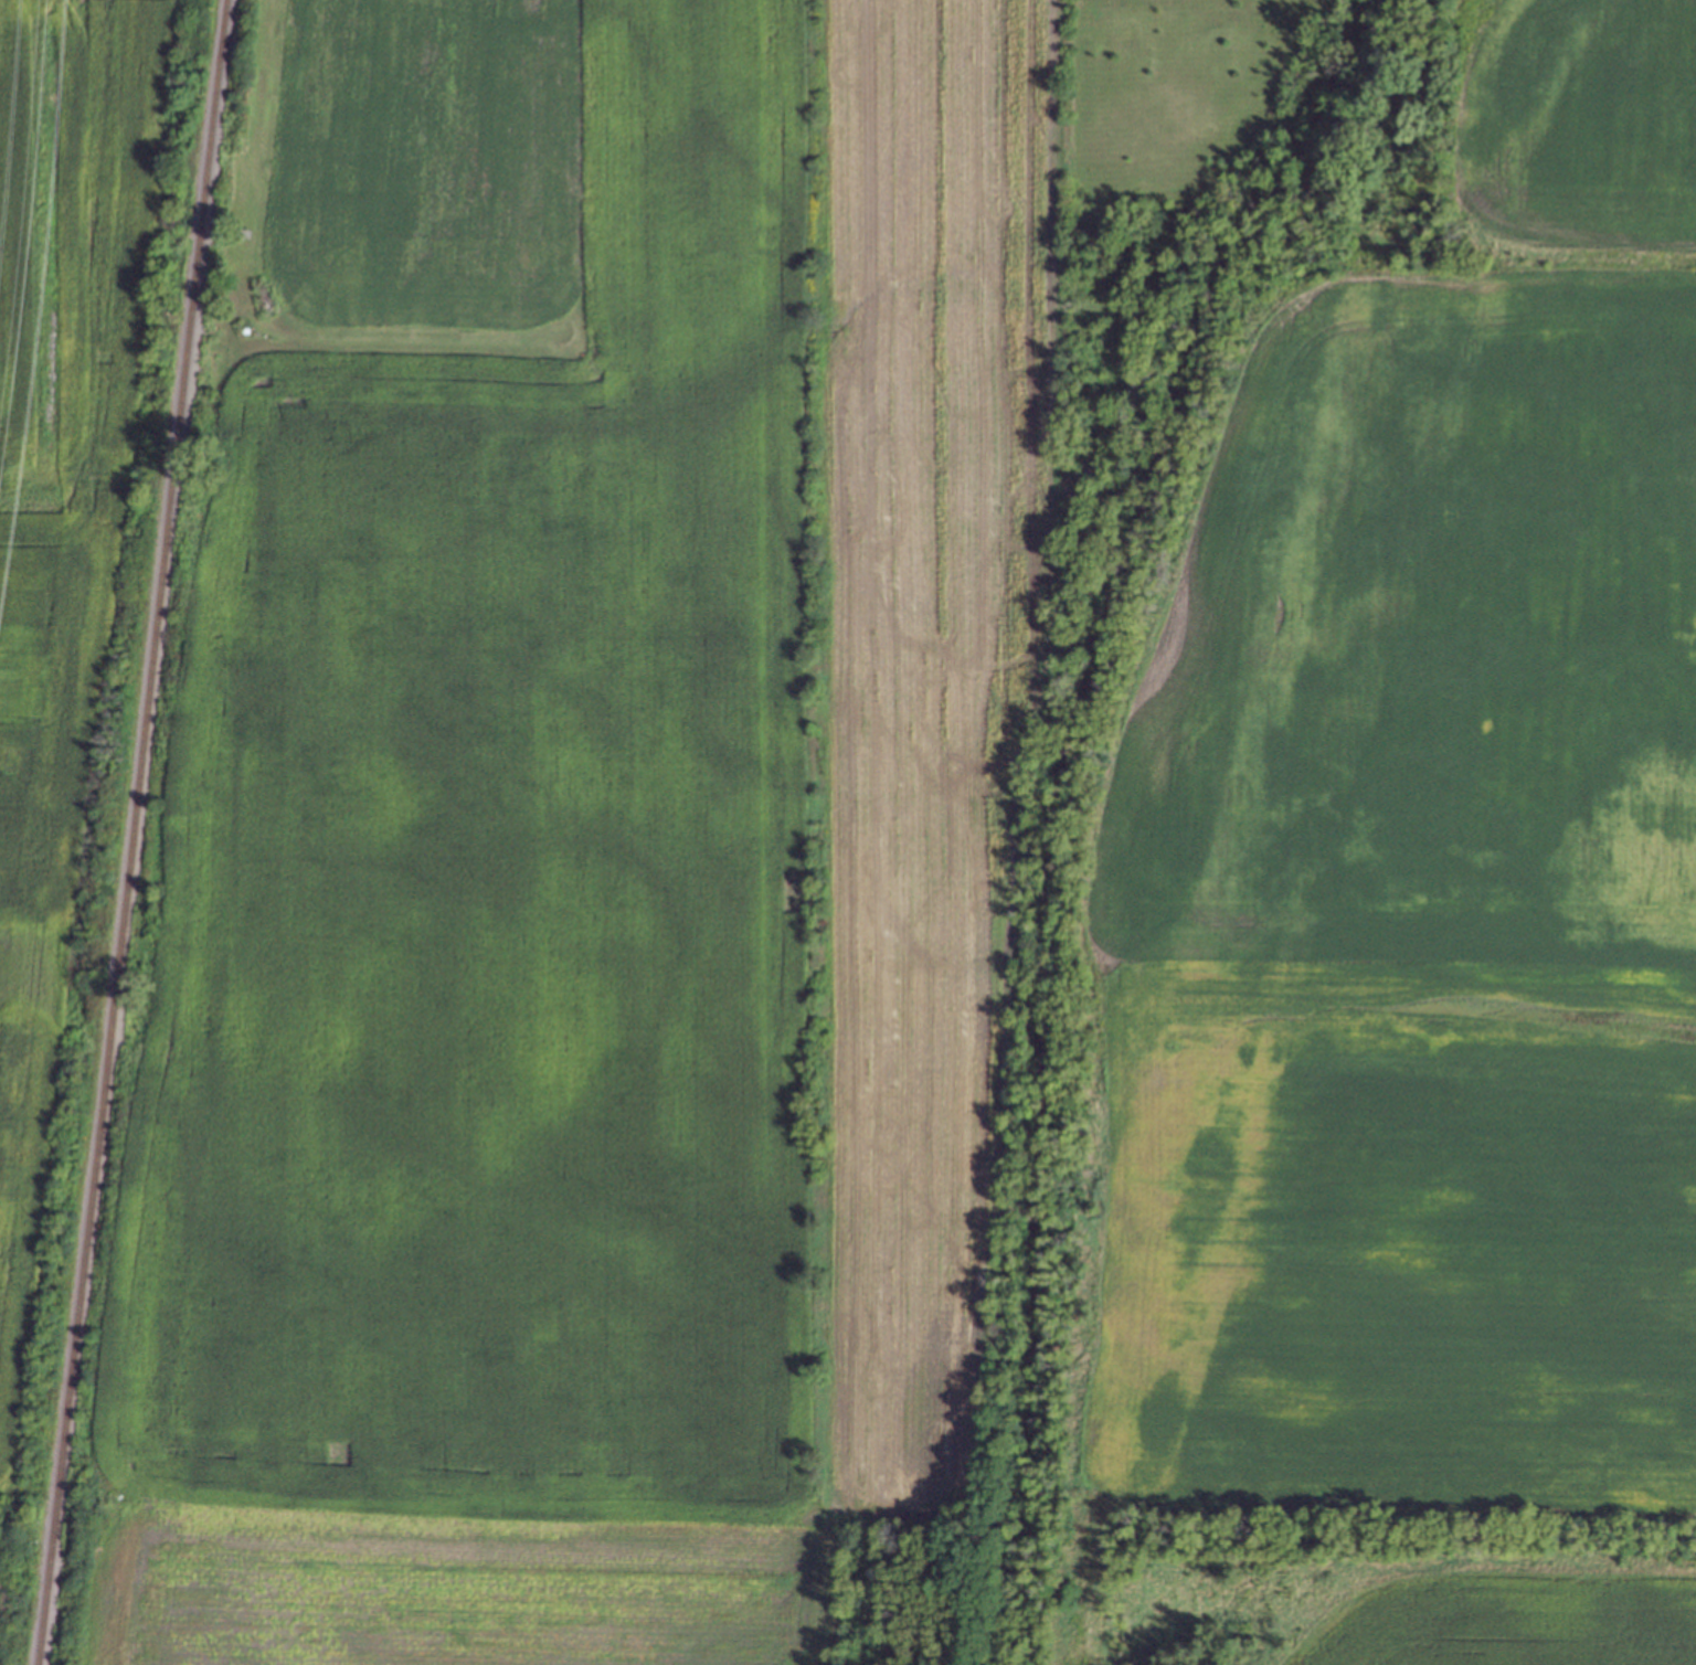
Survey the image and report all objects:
railway: (128, 832)

